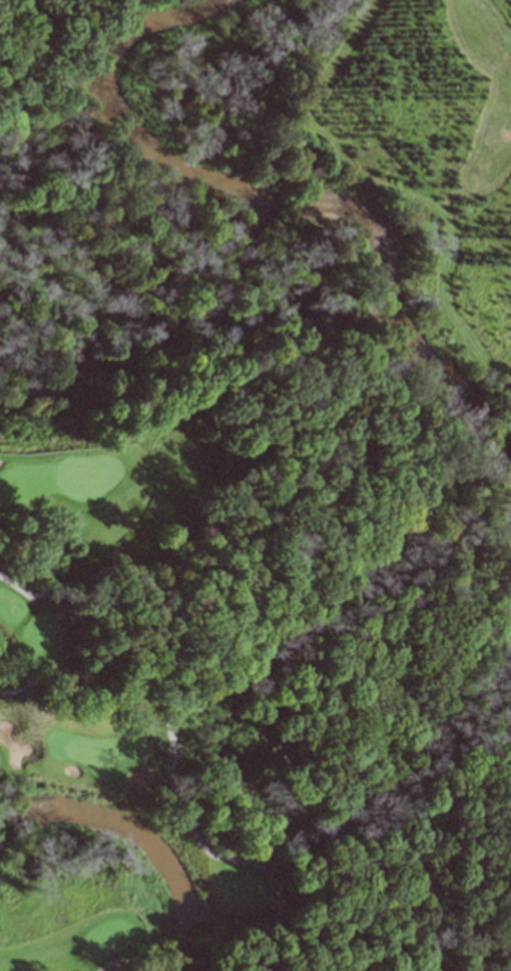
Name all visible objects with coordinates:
river: (286, 196)
road: (51, 575)
park: (115, 724)
road: (174, 789)
river: (139, 833)
road: (122, 961)

